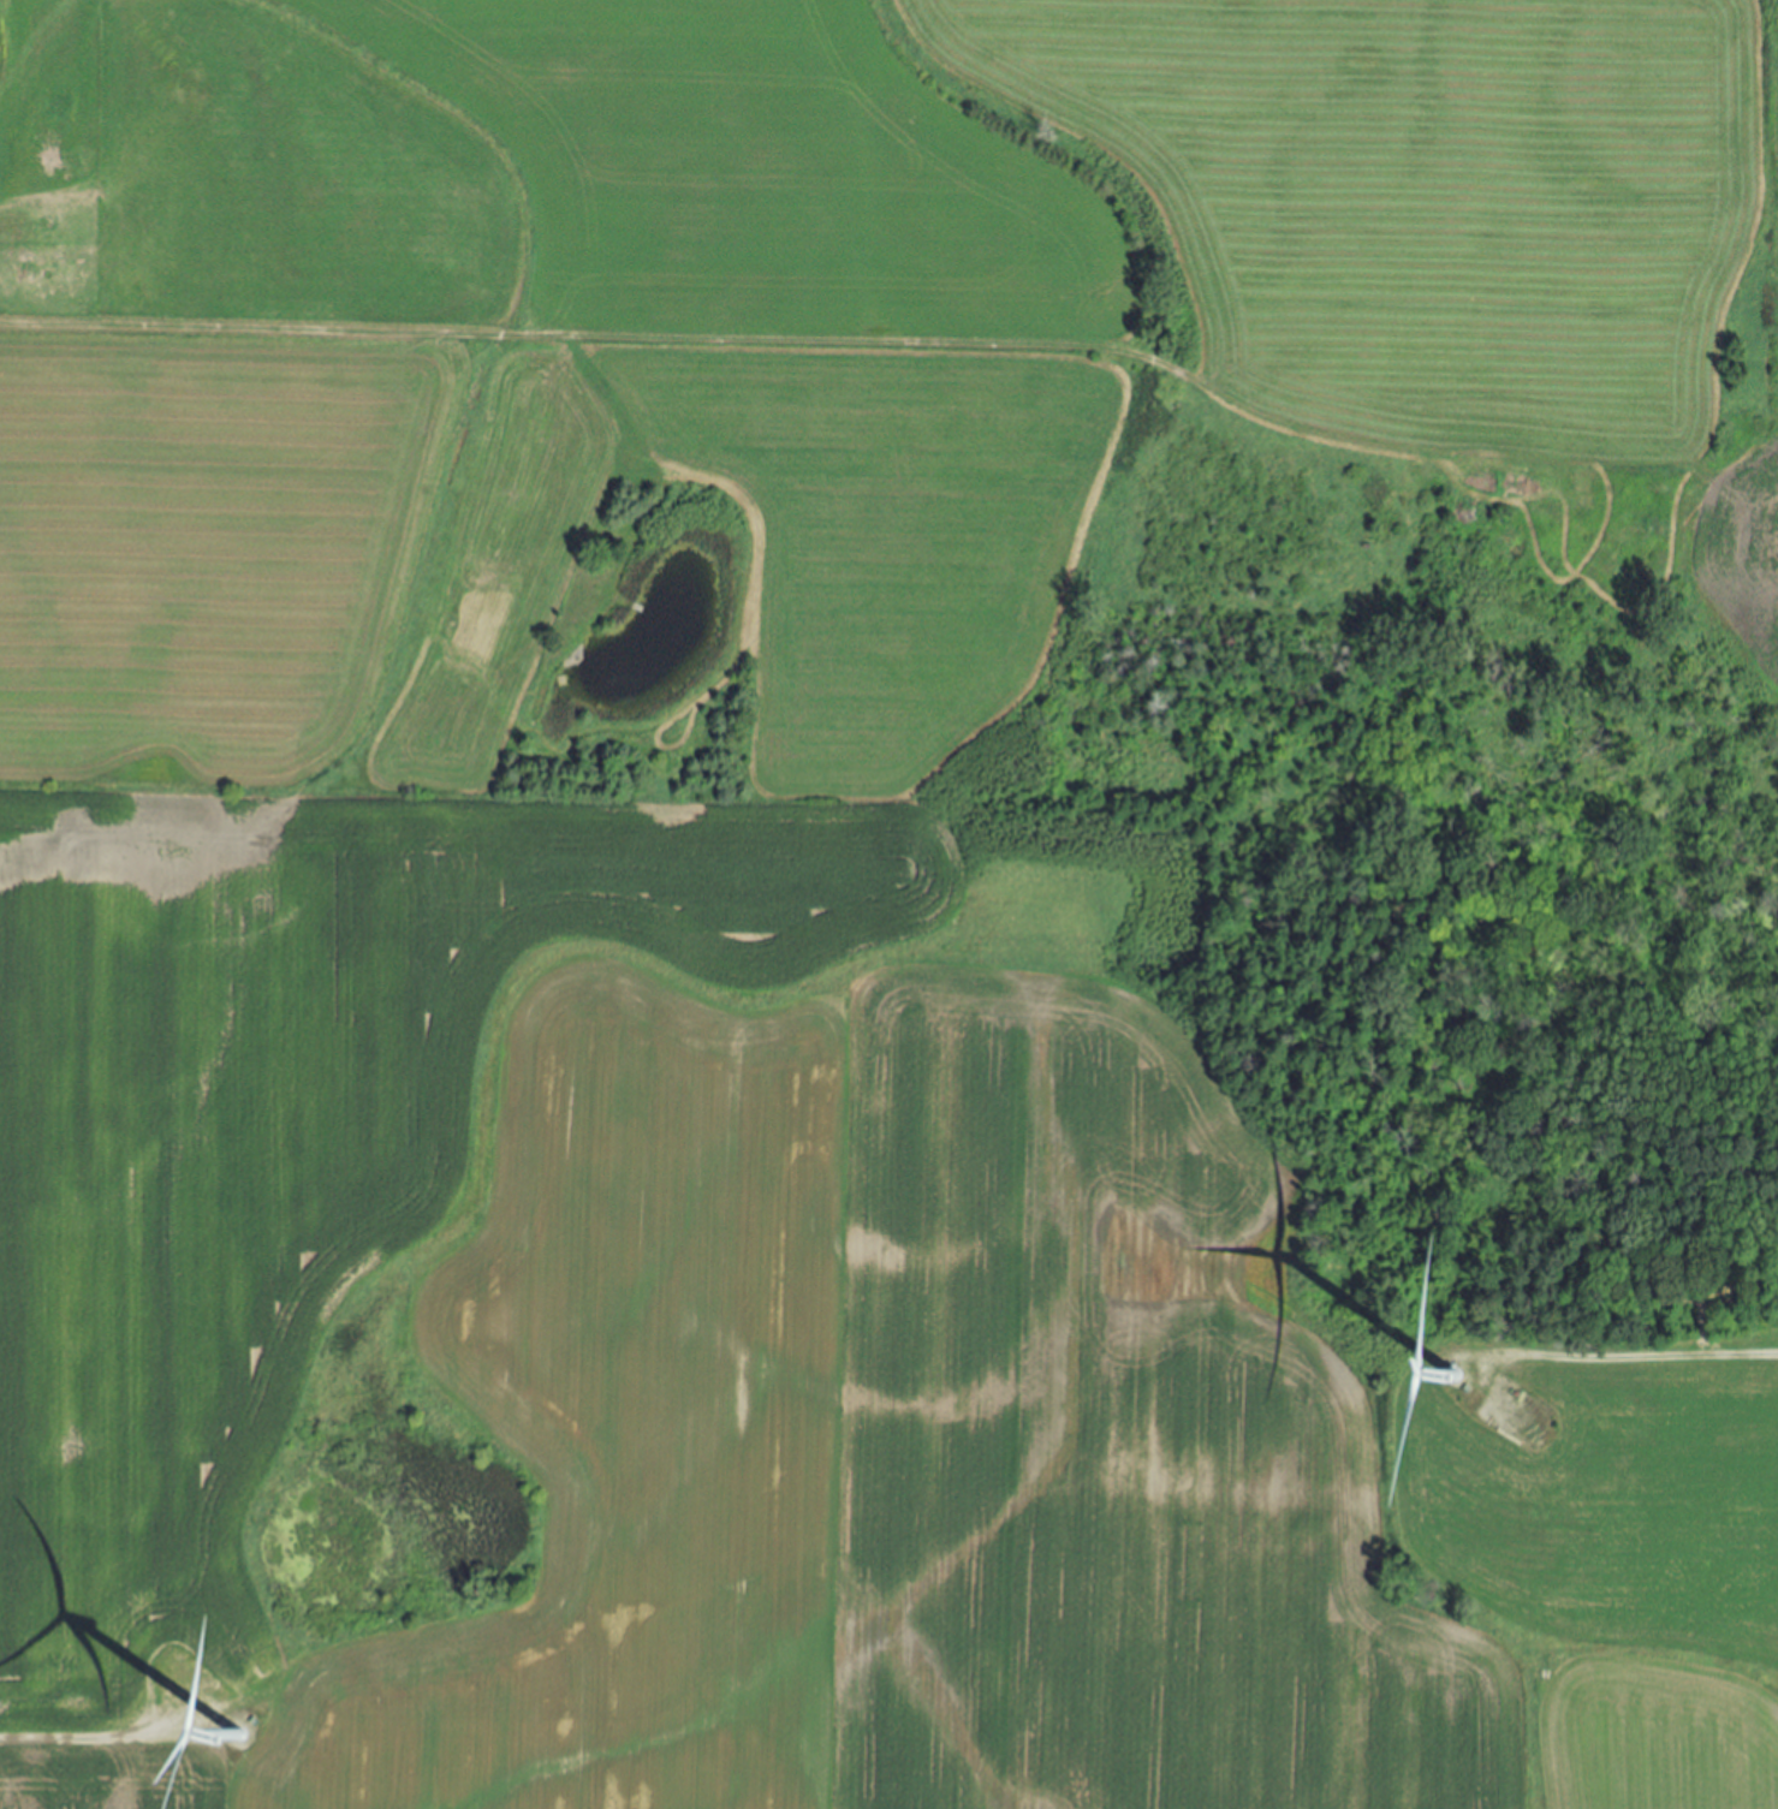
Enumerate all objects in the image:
road: (1633, 1357)
wind turbine: (1447, 1374)
wind turbine: (234, 1733)
road: (93, 1742)

